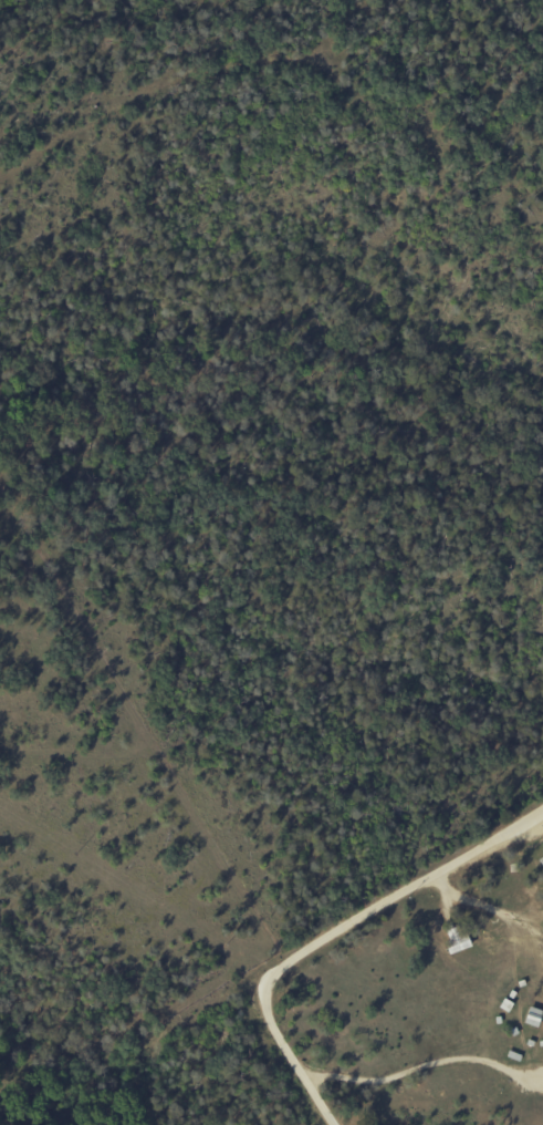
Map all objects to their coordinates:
road: (331, 933)
building: (456, 939)
building: (533, 1015)
road: (419, 1069)

